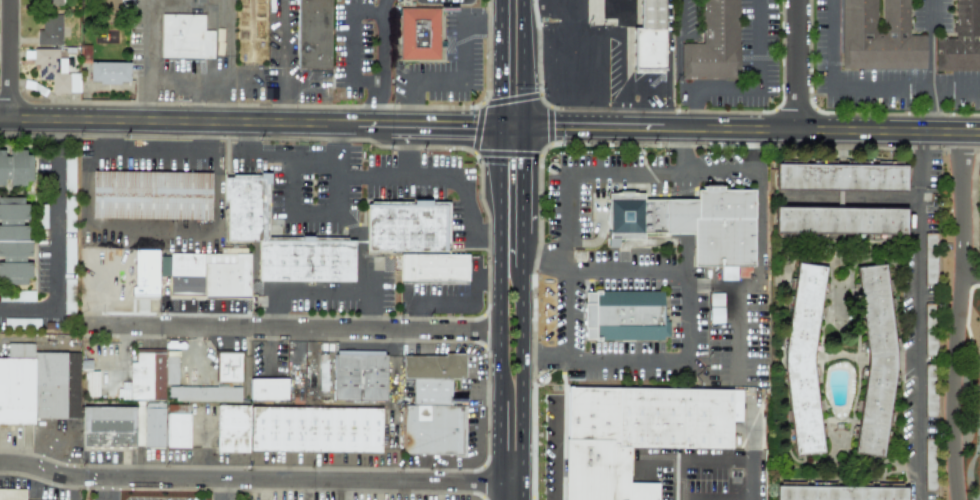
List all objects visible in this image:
building: (50, 2)
road: (385, 2)
road: (443, 2)
building: (110, 6)
parking lot: (469, 10)
road: (346, 14)
road: (486, 24)
building: (49, 32)
road: (598, 32)
building: (313, 34)
building: (419, 34)
road: (478, 35)
road: (455, 36)
building: (185, 37)
parking lot: (448, 37)
building: (879, 37)
building: (649, 38)
road: (462, 39)
building: (960, 40)
road: (449, 43)
building: (713, 43)
road: (933, 43)
road: (441, 44)
road: (679, 51)
road: (12, 60)
road: (148, 61)
road: (283, 62)
parking lot: (475, 64)
road: (503, 64)
road: (523, 64)
road: (799, 66)
parking lot: (430, 67)
building: (54, 71)
building: (108, 72)
road: (204, 78)
road: (437, 80)
road: (300, 81)
parking lot: (397, 84)
road: (853, 84)
road: (538, 85)
road: (969, 88)
road: (626, 89)
road: (750, 89)
parking lot: (446, 96)
road: (510, 98)
road: (483, 99)
road: (251, 125)
road: (549, 125)
road: (477, 128)
road: (513, 128)
road: (751, 132)
road: (556, 144)
road: (680, 151)
road: (643, 153)
road: (506, 154)
road: (150, 156)
road: (281, 157)
road: (478, 160)
building: (2, 167)
building: (19, 167)
road: (617, 172)
building: (68, 175)
road: (419, 177)
building: (841, 180)
building: (150, 195)
building: (245, 206)
building: (977, 209)
building: (68, 211)
building: (41, 216)
road: (757, 216)
road: (303, 218)
building: (598, 223)
building: (842, 223)
building: (690, 224)
building: (405, 227)
road: (150, 233)
building: (14, 241)
road: (57, 242)
building: (930, 258)
road: (503, 264)
building: (433, 267)
road: (363, 268)
building: (206, 274)
road: (970, 274)
building: (99, 276)
road: (488, 279)
road: (299, 291)
building: (23, 296)
building: (68, 296)
road: (446, 296)
building: (716, 304)
road: (736, 308)
road: (684, 313)
road: (523, 314)
building: (624, 315)
road: (566, 316)
road: (919, 318)
road: (957, 318)
road: (299, 331)
building: (930, 336)
building: (805, 358)
building: (878, 359)
building: (228, 367)
building: (149, 375)
building: (358, 375)
building: (91, 383)
building: (38, 385)
building: (268, 389)
building: (930, 390)
building: (204, 393)
building: (433, 406)
building: (978, 416)
building: (649, 419)
building: (153, 425)
building: (107, 426)
building: (177, 426)
building: (297, 429)
road: (557, 441)
road: (503, 449)
road: (715, 459)
building: (930, 460)
road: (261, 479)
road: (678, 479)
road: (751, 480)
road: (103, 484)
road: (220, 489)
building: (841, 492)
road: (557, 493)
building: (12, 494)
road: (103, 495)

